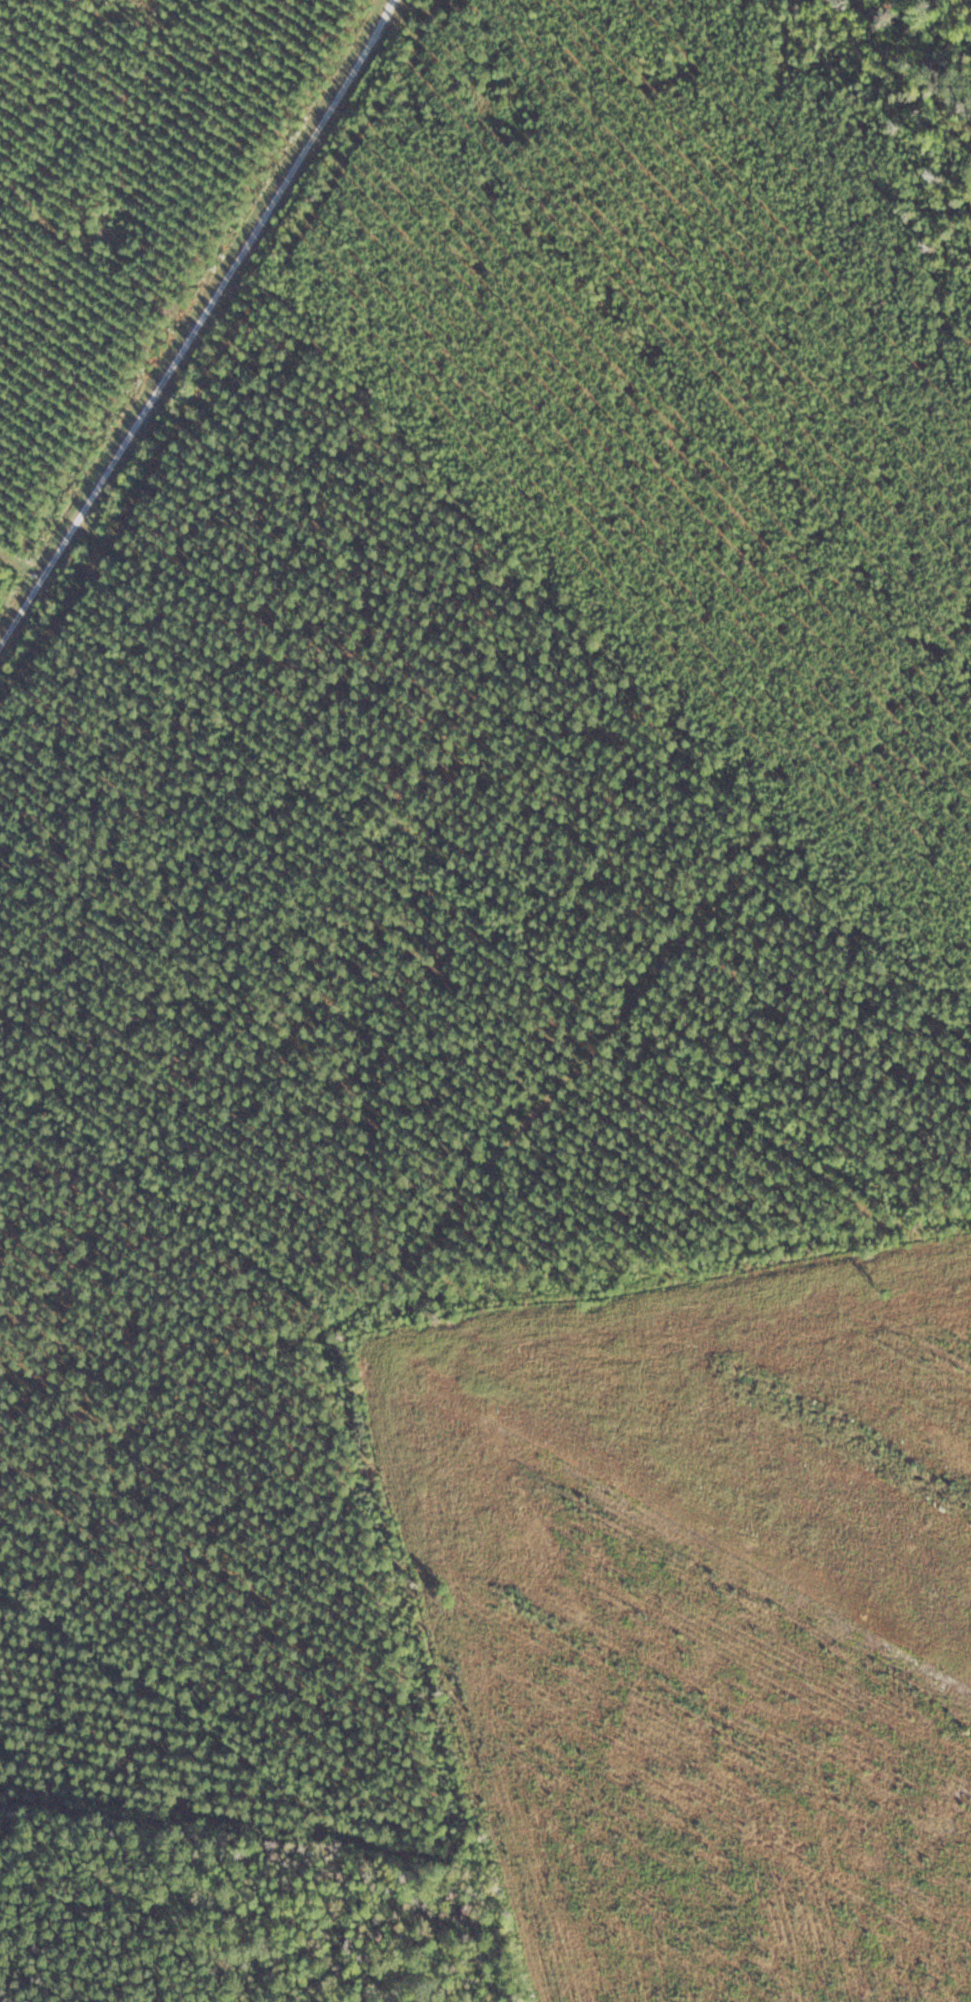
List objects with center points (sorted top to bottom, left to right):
road: (200, 324)

